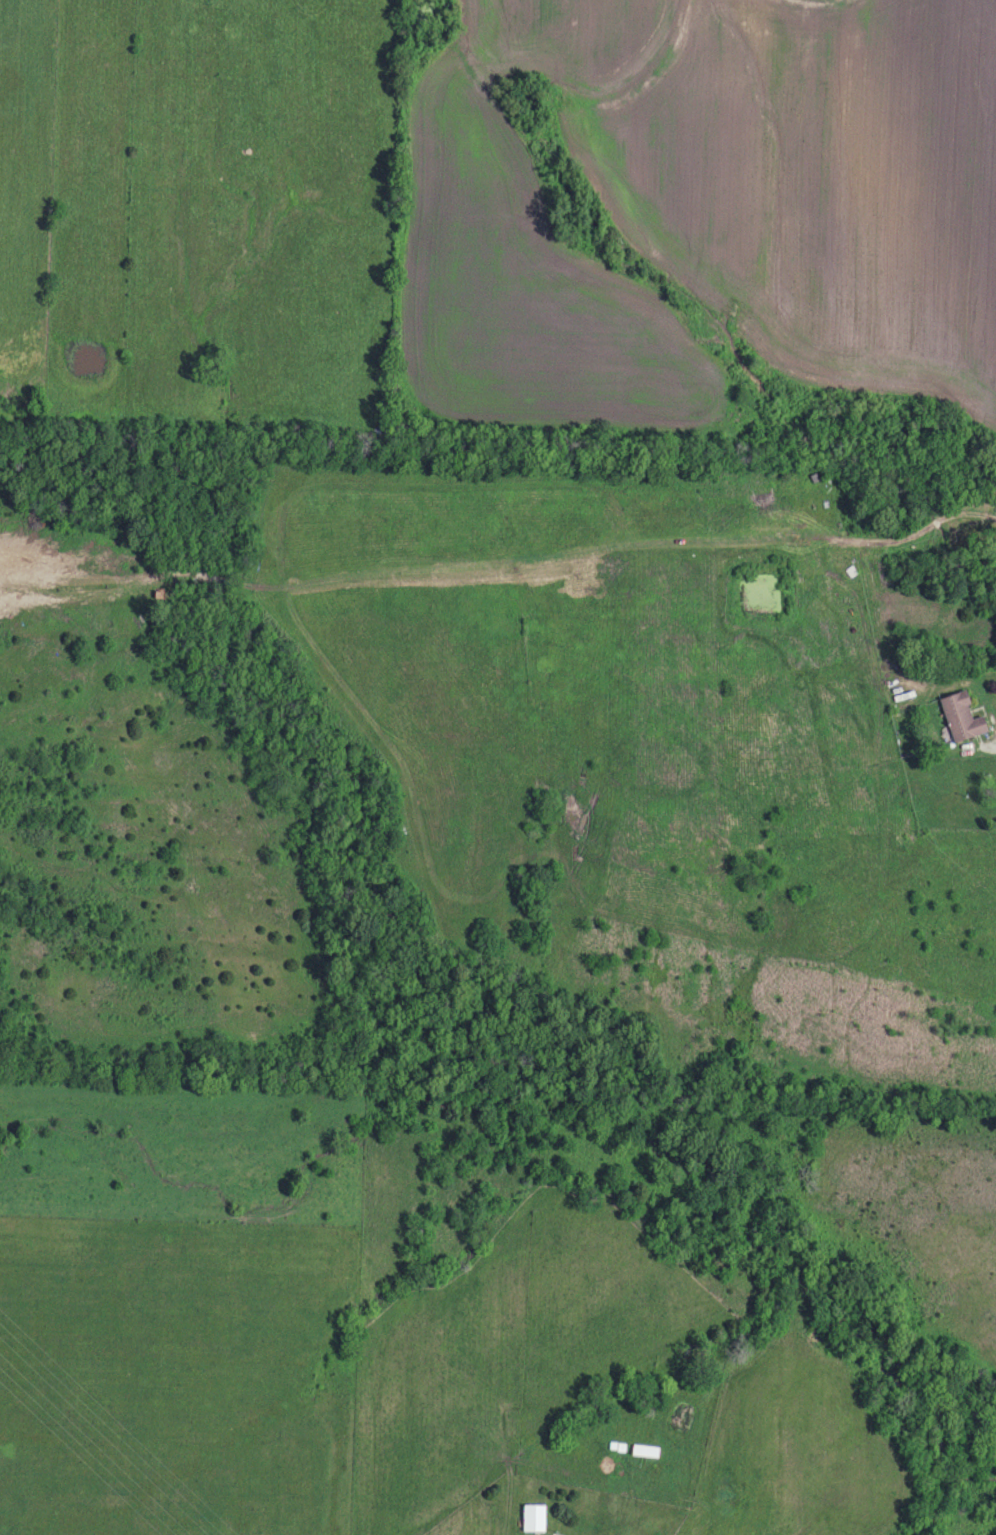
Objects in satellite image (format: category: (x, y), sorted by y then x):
building: (958, 718)
building: (643, 1450)
building: (531, 1517)

